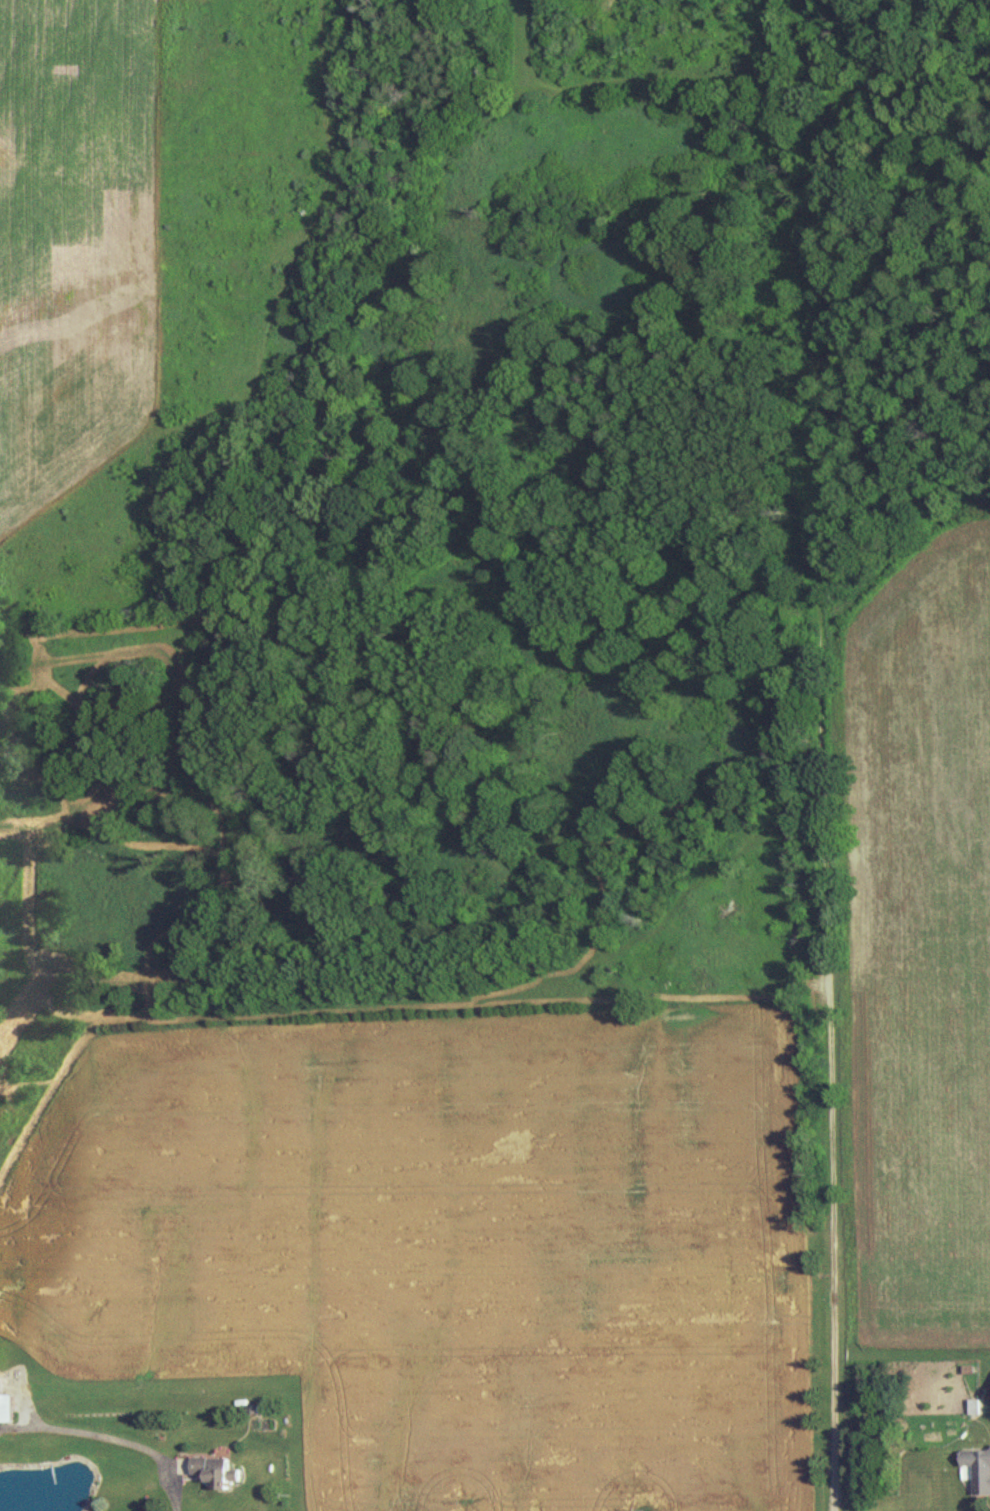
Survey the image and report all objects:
road: (819, 1023)
building: (8, 1402)
building: (977, 1405)
road: (126, 1441)
building: (979, 1467)
building: (218, 1469)

